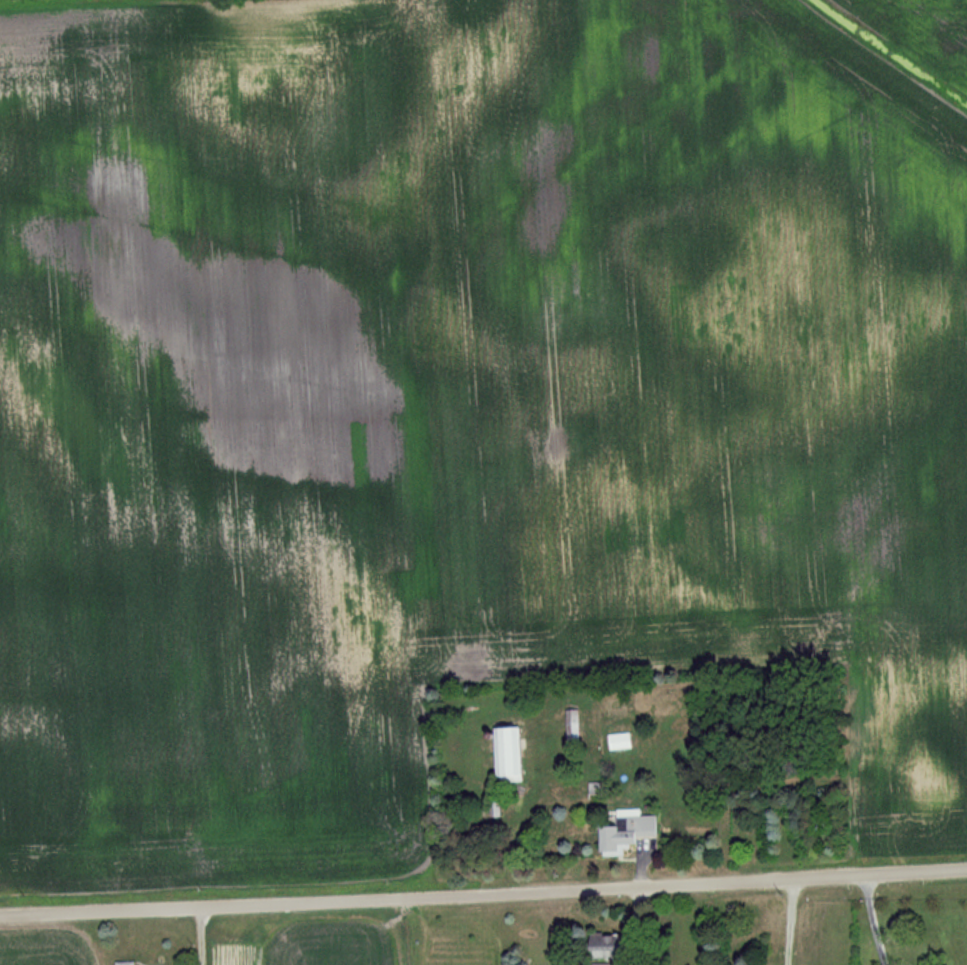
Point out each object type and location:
building: (569, 729)
building: (616, 741)
building: (503, 755)
building: (622, 835)
road: (483, 890)
road: (870, 919)
road: (786, 920)
road: (630, 924)
building: (599, 943)
building: (600, 964)

